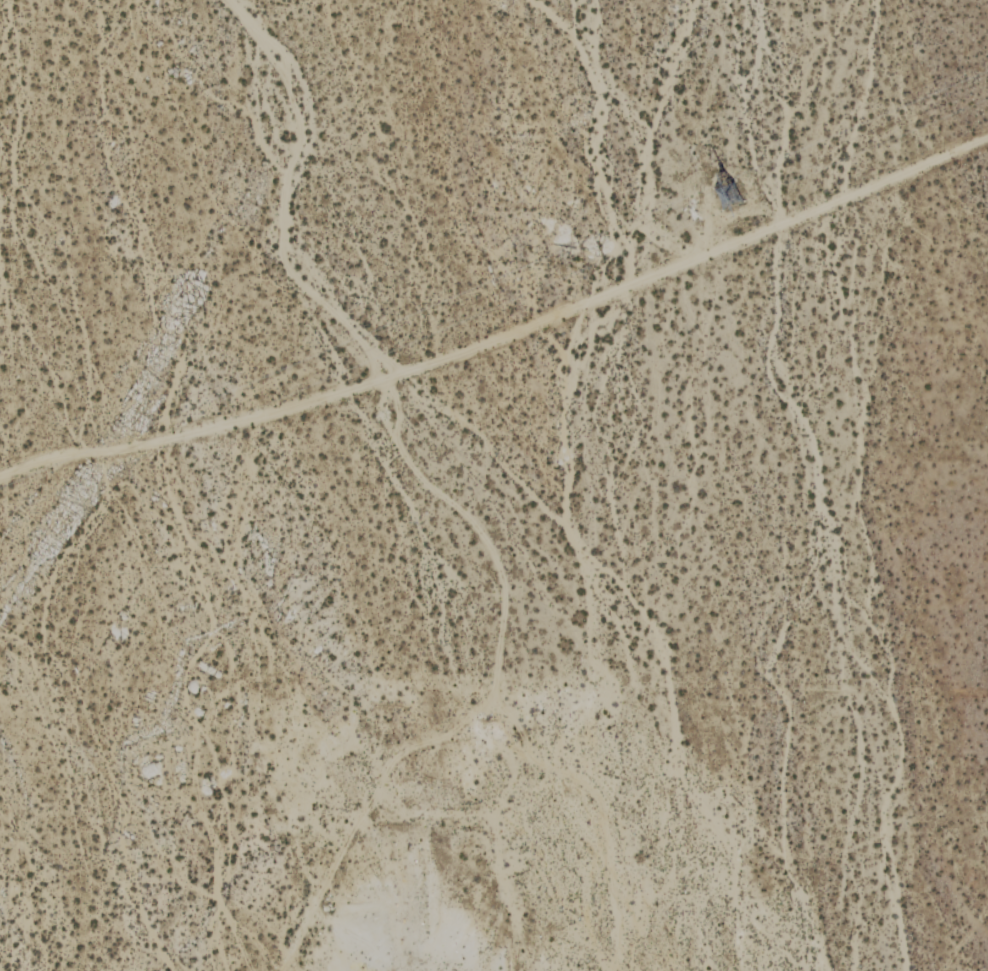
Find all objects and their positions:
power tower: (722, 201)
road: (503, 336)

